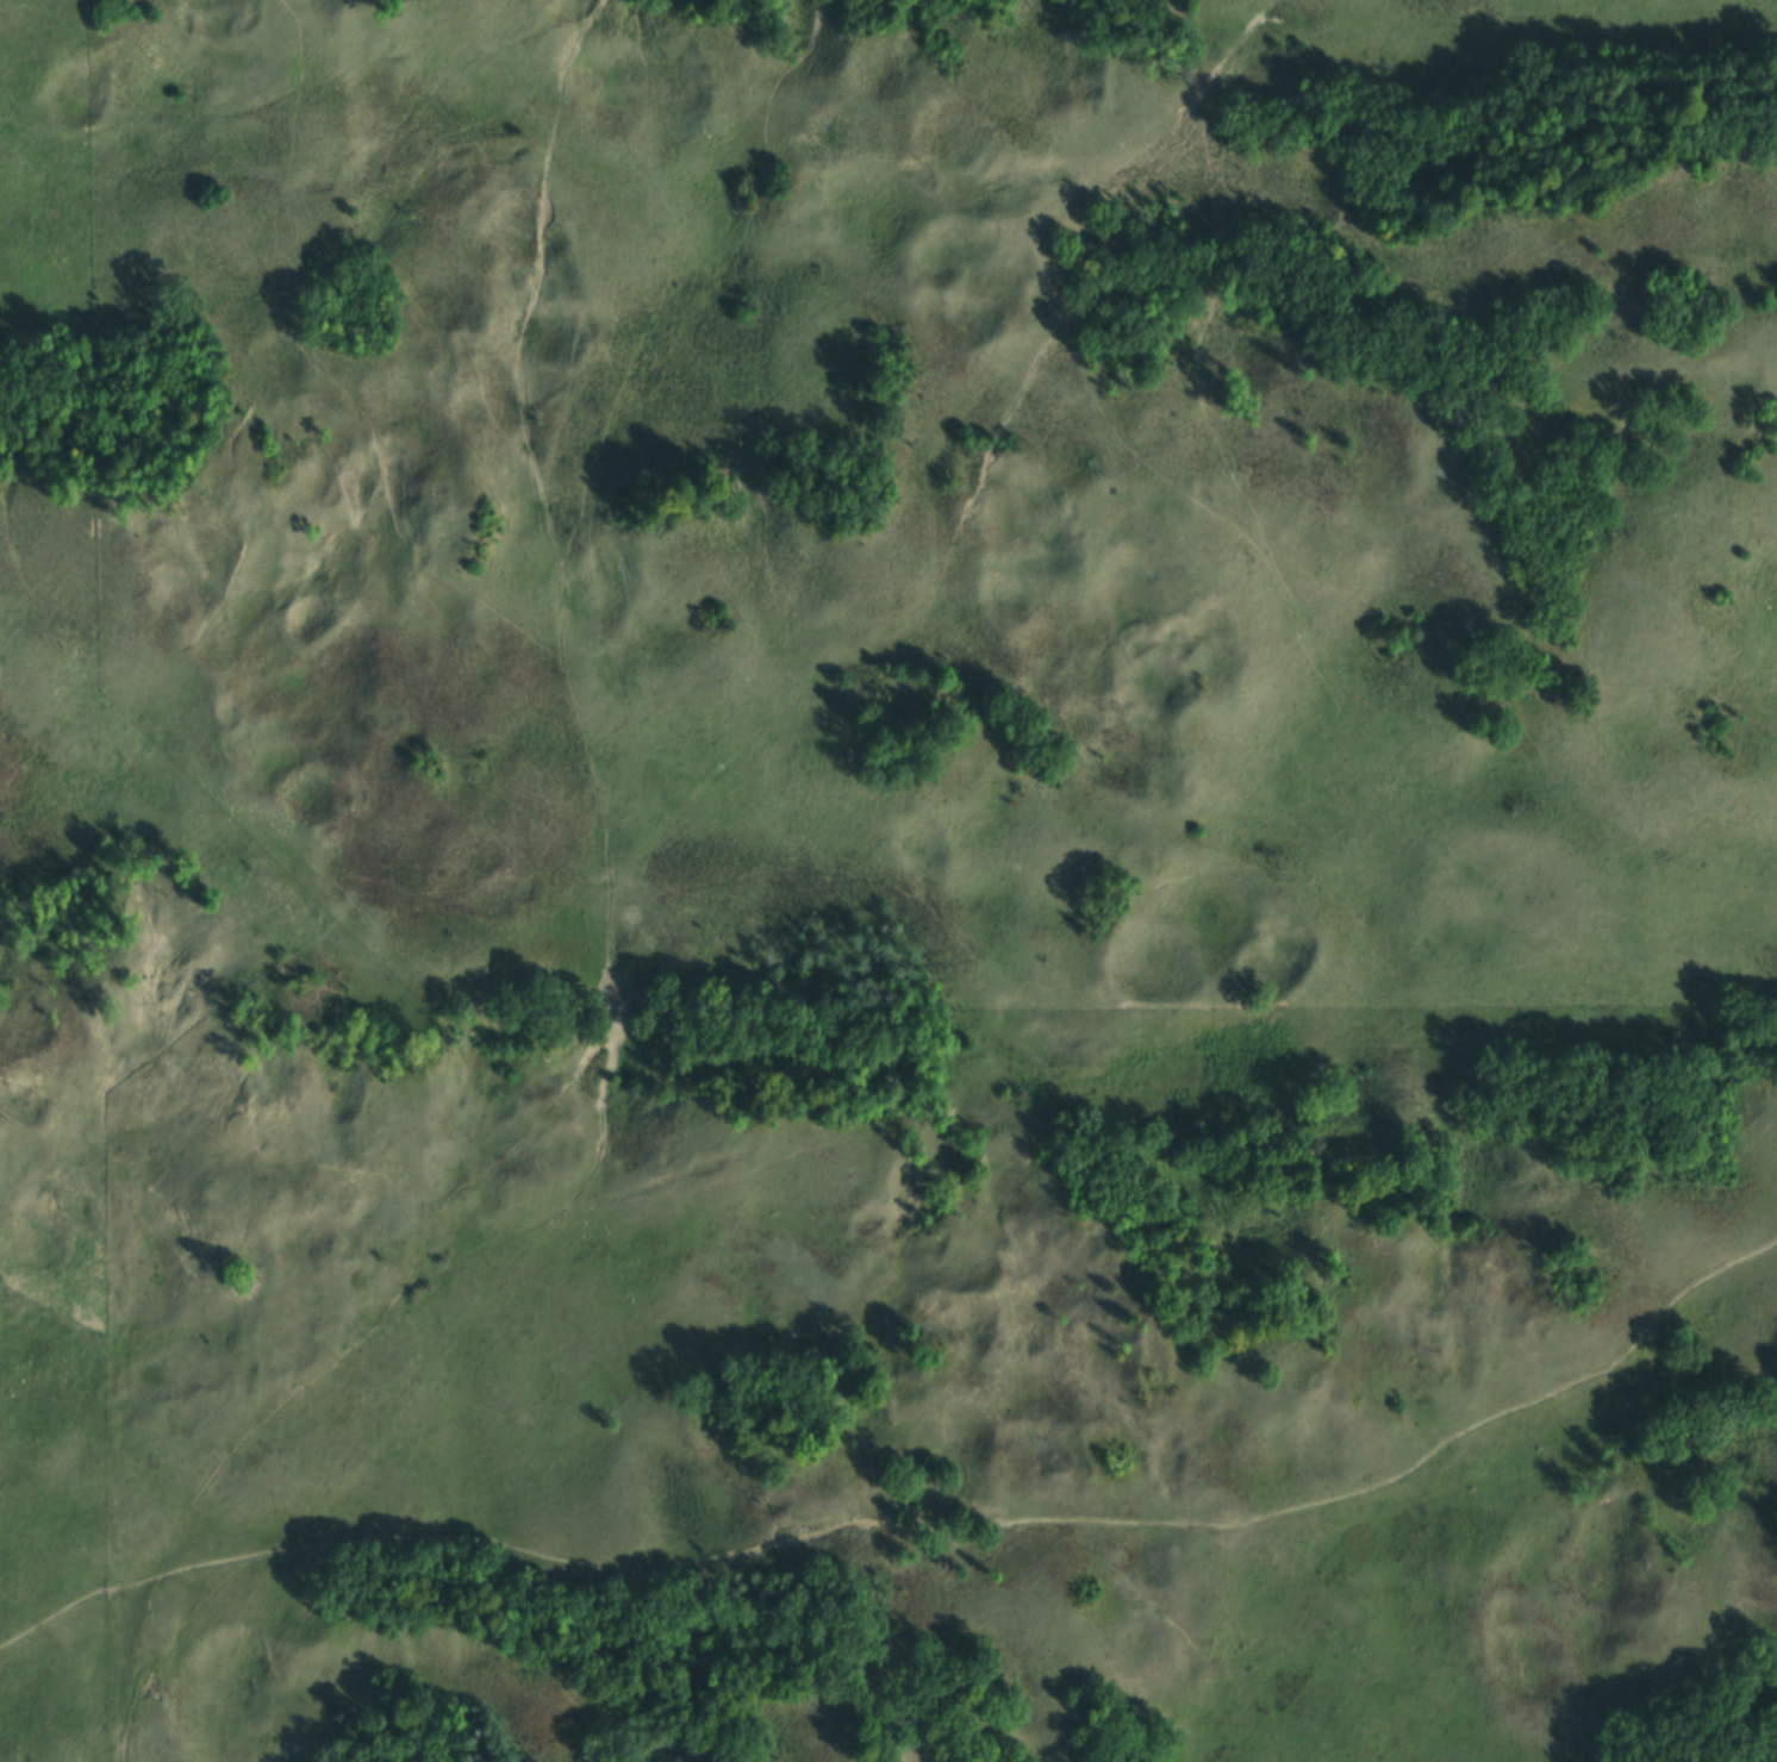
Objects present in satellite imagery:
road: (616, 970)
road: (916, 1532)

